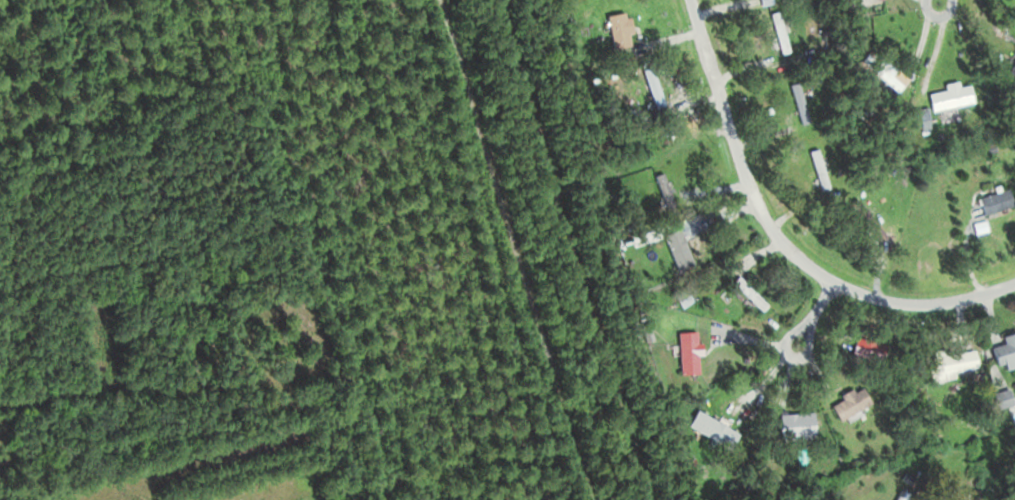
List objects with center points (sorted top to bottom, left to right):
road: (941, 0)
building: (614, 30)
building: (774, 32)
building: (1010, 70)
building: (648, 88)
building: (945, 94)
building: (794, 103)
building: (916, 120)
building: (815, 169)
building: (660, 194)
building: (991, 201)
building: (853, 208)
road: (781, 237)
building: (673, 250)
building: (678, 296)
road: (816, 311)
building: (863, 349)
building: (684, 350)
building: (1002, 351)
building: (946, 365)
building: (1012, 390)
building: (999, 399)
building: (846, 403)
building: (792, 426)
building: (707, 430)

